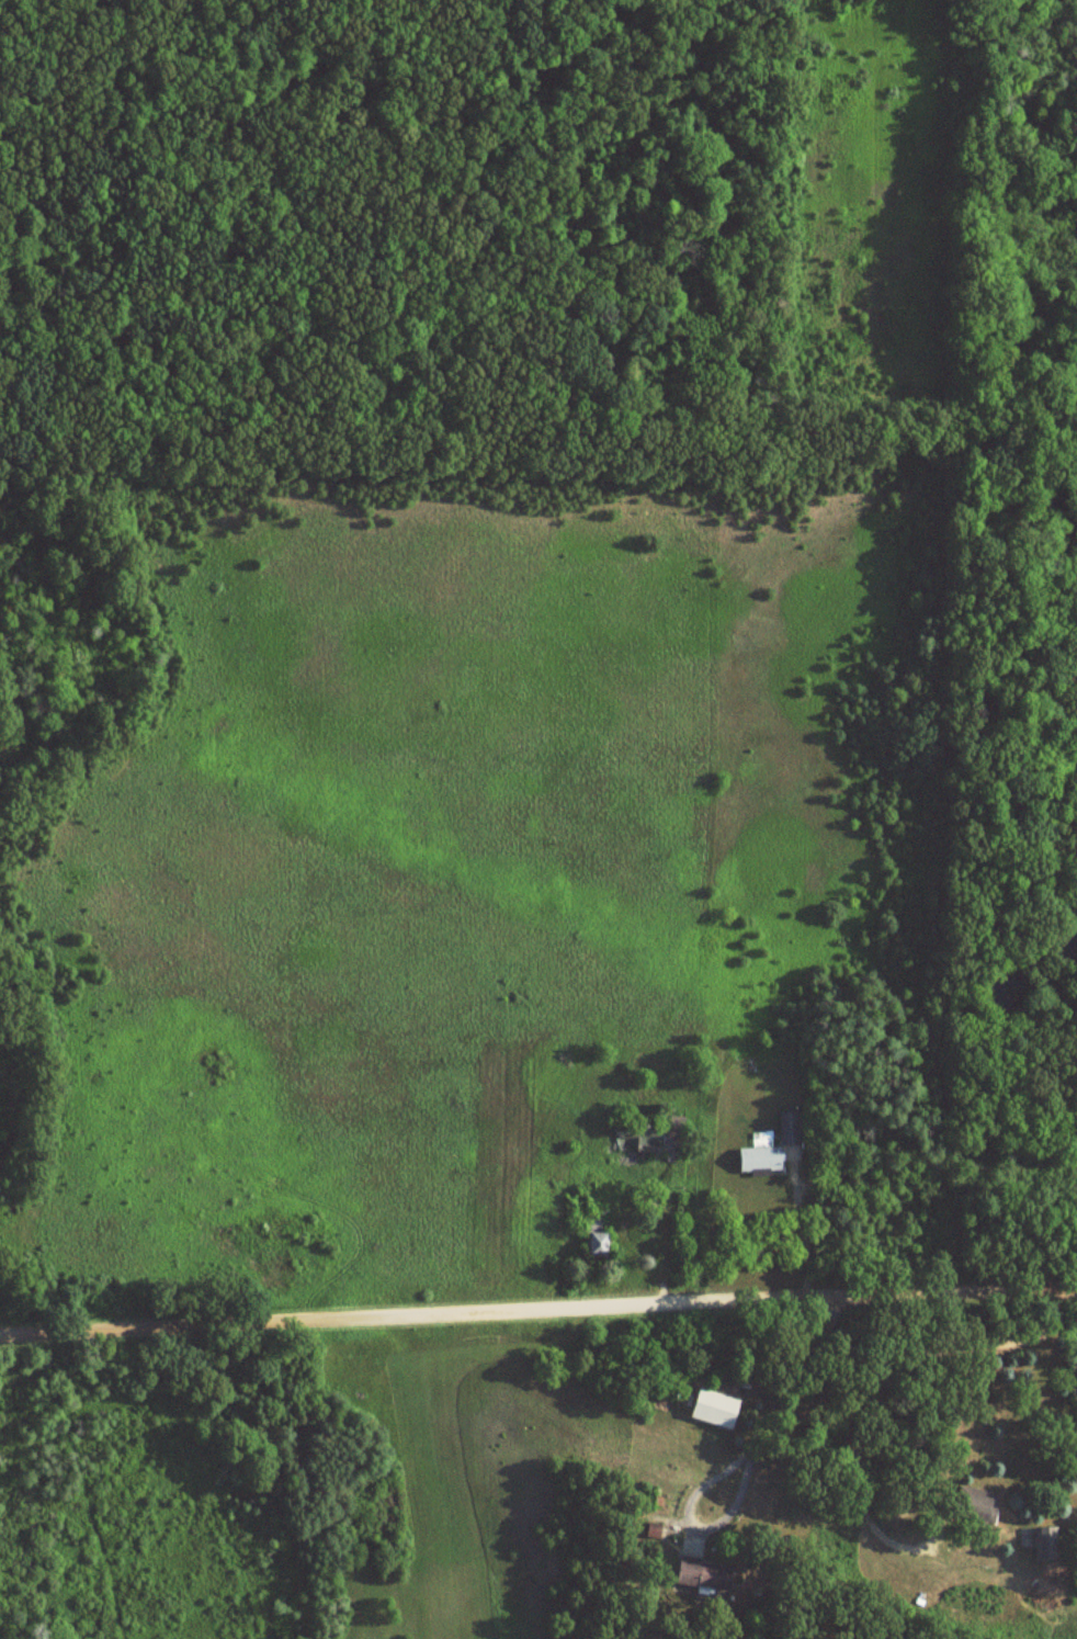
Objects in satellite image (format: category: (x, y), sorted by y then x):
building: (672, 1127)
building: (785, 1127)
building: (626, 1138)
building: (755, 1158)
building: (590, 1220)
road: (800, 1224)
road: (662, 1234)
road: (537, 1309)
road: (854, 1425)
road: (748, 1467)
building: (970, 1504)
building: (1038, 1542)
building: (699, 1573)

